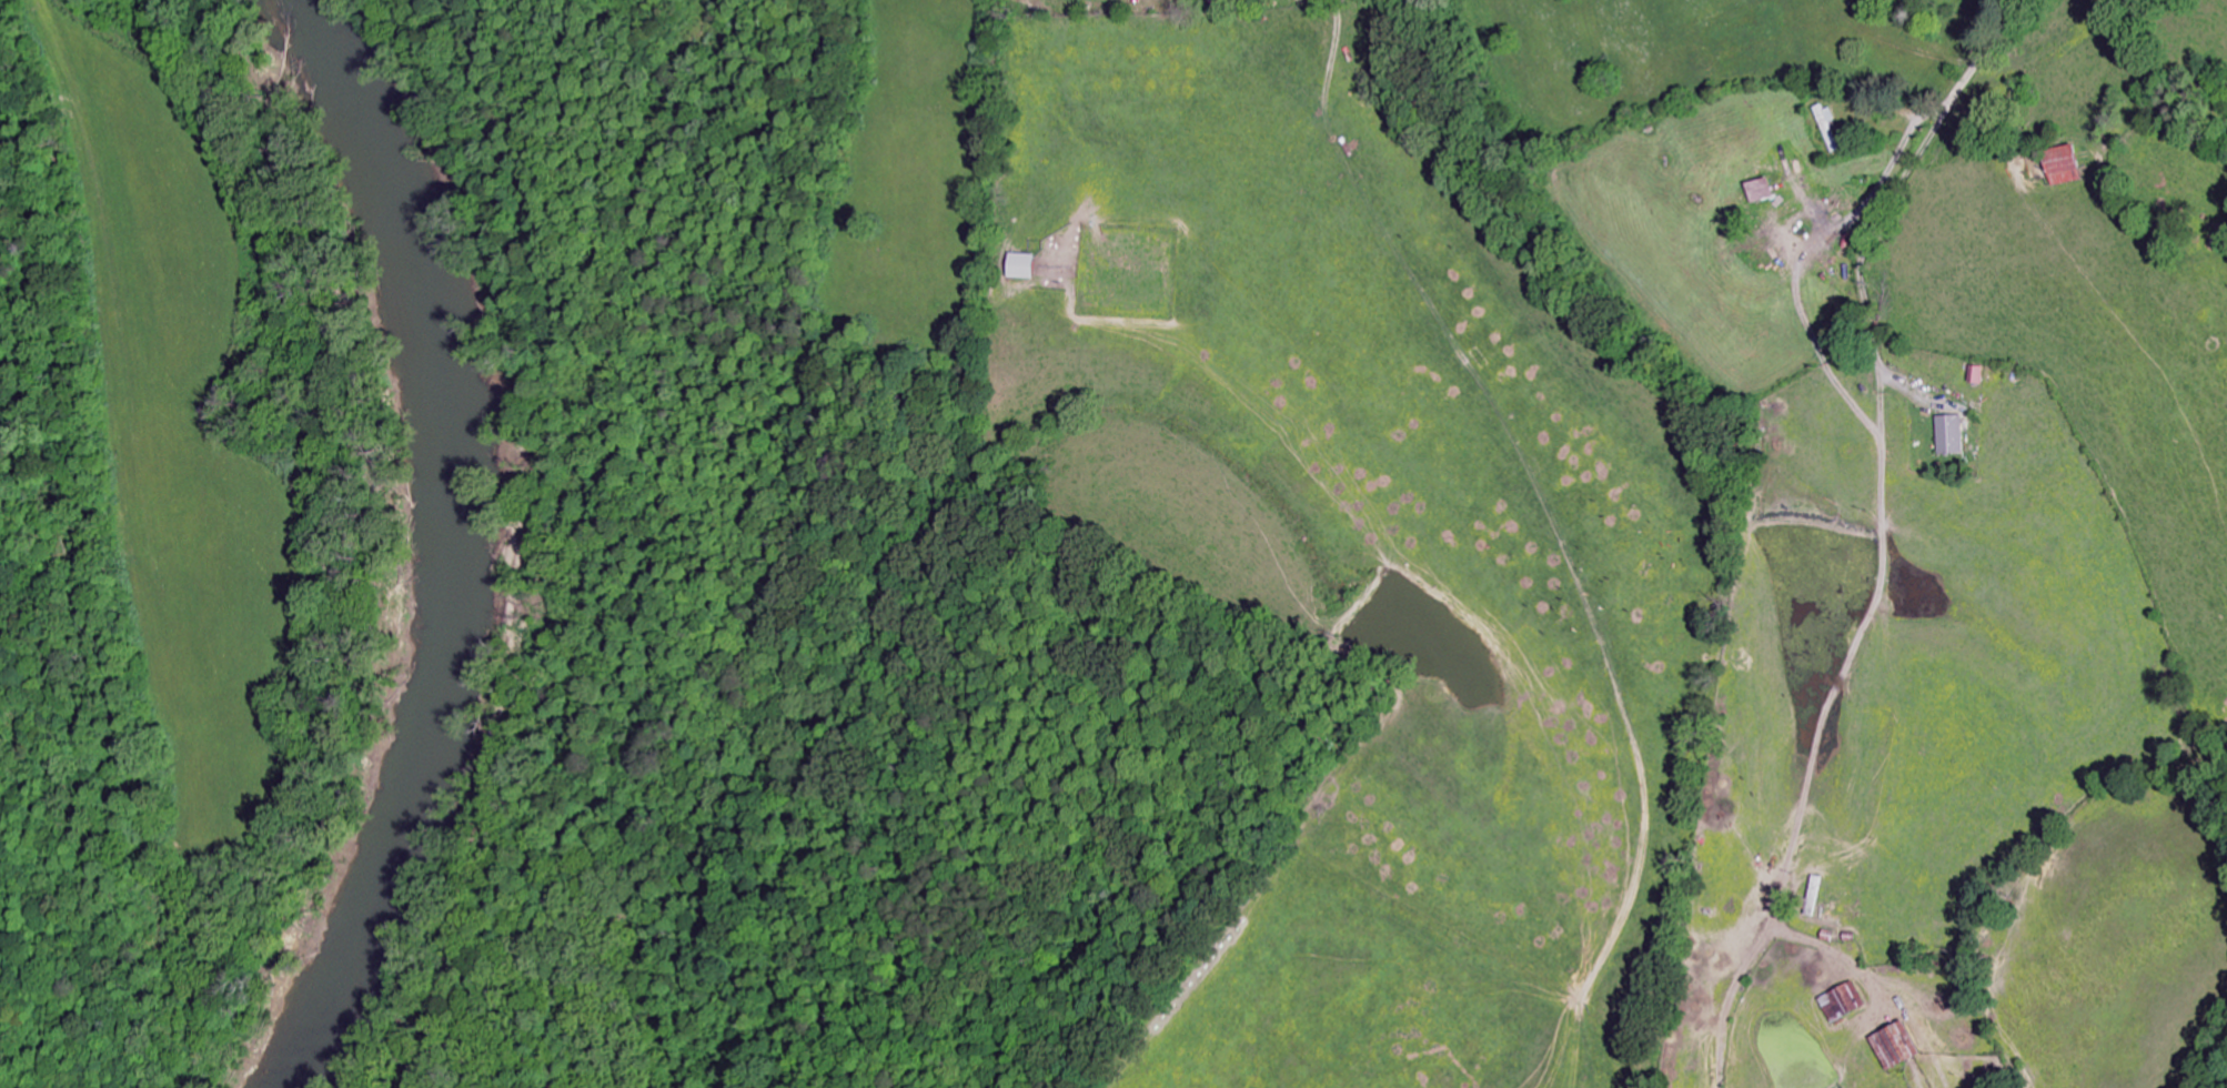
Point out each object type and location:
road: (1982, 62)
building: (1831, 125)
building: (2070, 165)
building: (1765, 191)
building: (1028, 266)
building: (1954, 435)
river: (432, 540)
building: (1846, 1004)
building: (1902, 1047)

